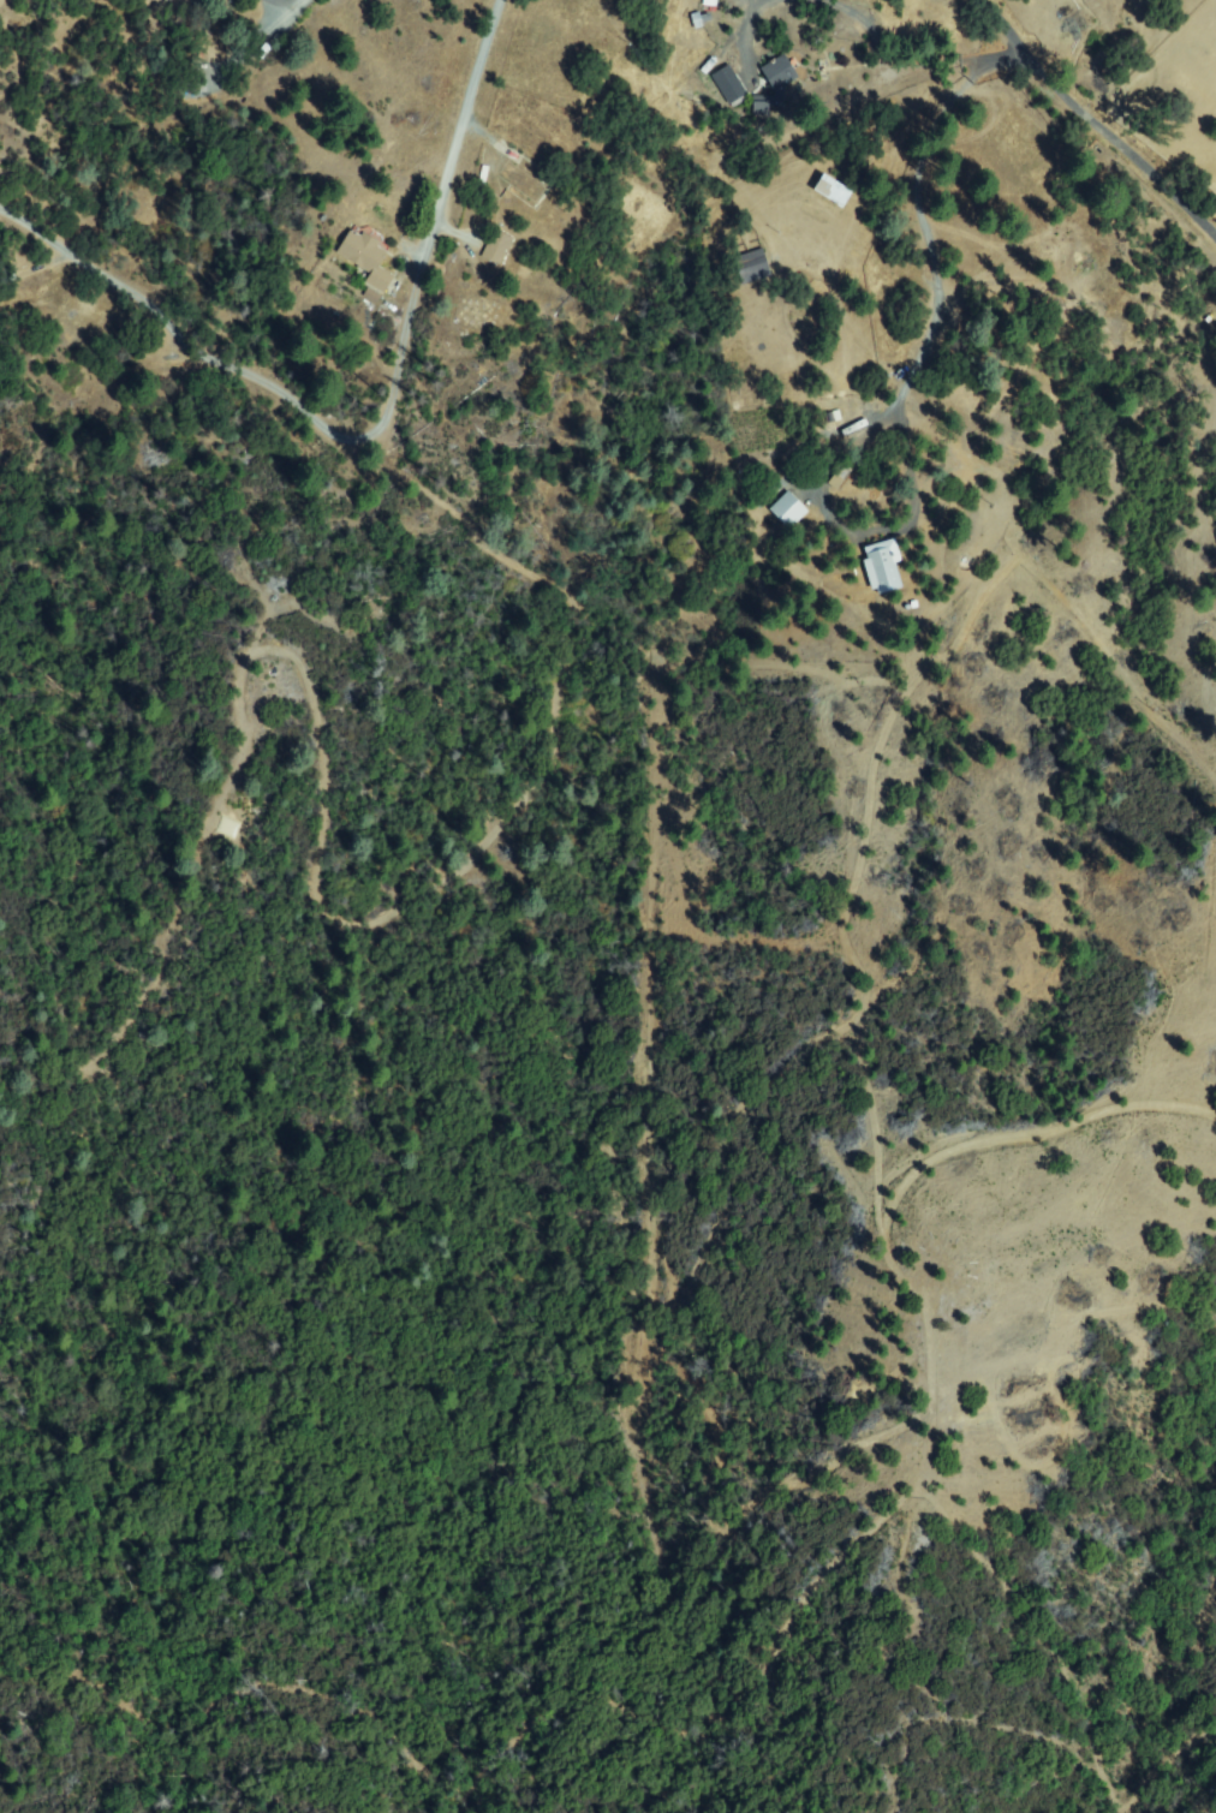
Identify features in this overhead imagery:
building: (780, 73)
building: (729, 85)
road: (857, 97)
building: (761, 108)
road: (1099, 114)
road: (467, 118)
building: (523, 183)
building: (833, 192)
building: (497, 246)
building: (368, 258)
building: (751, 268)
building: (831, 485)

